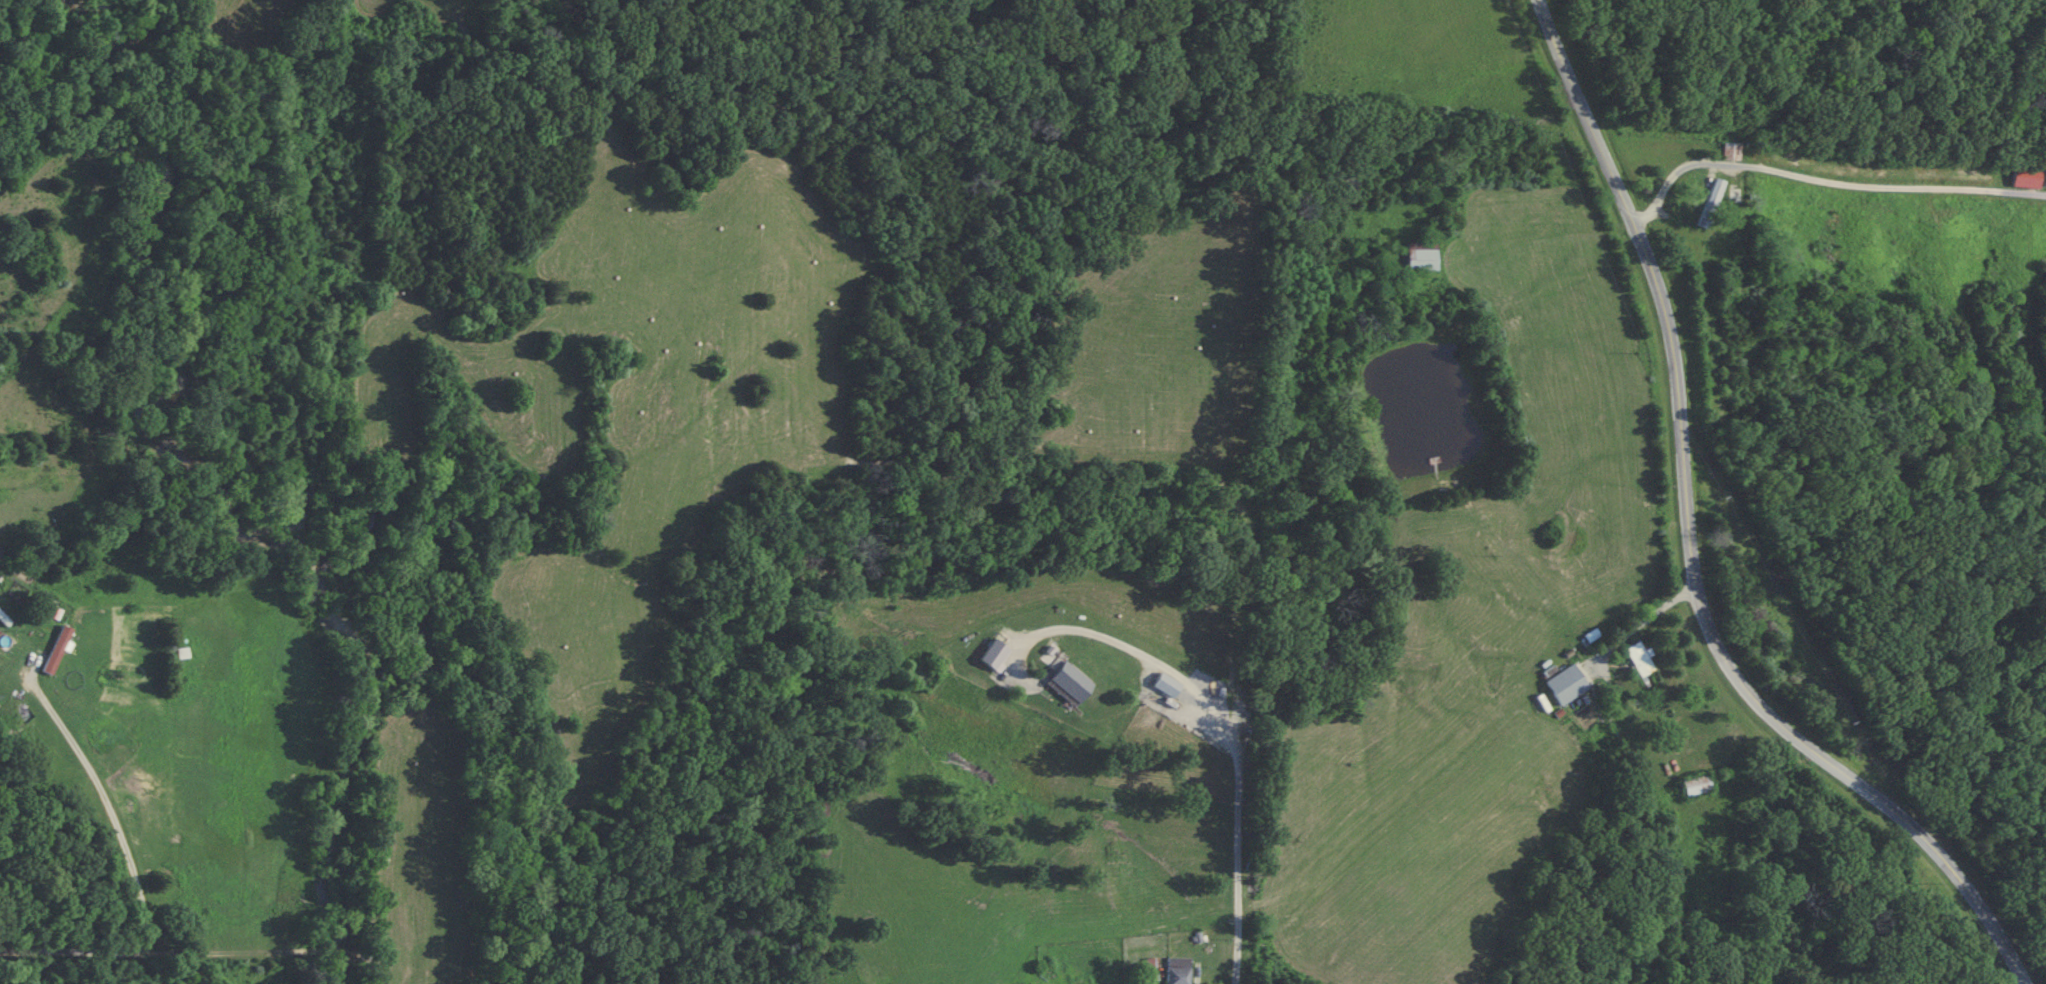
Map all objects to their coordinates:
building: (1732, 152)
road: (1823, 181)
building: (2045, 184)
building: (1718, 198)
building: (1421, 256)
road: (1693, 545)
road: (1648, 625)
building: (57, 649)
building: (1640, 659)
building: (1071, 684)
building: (1568, 684)
building: (1167, 685)
road: (1234, 723)
building: (1697, 785)
road: (129, 865)
building: (1177, 970)

